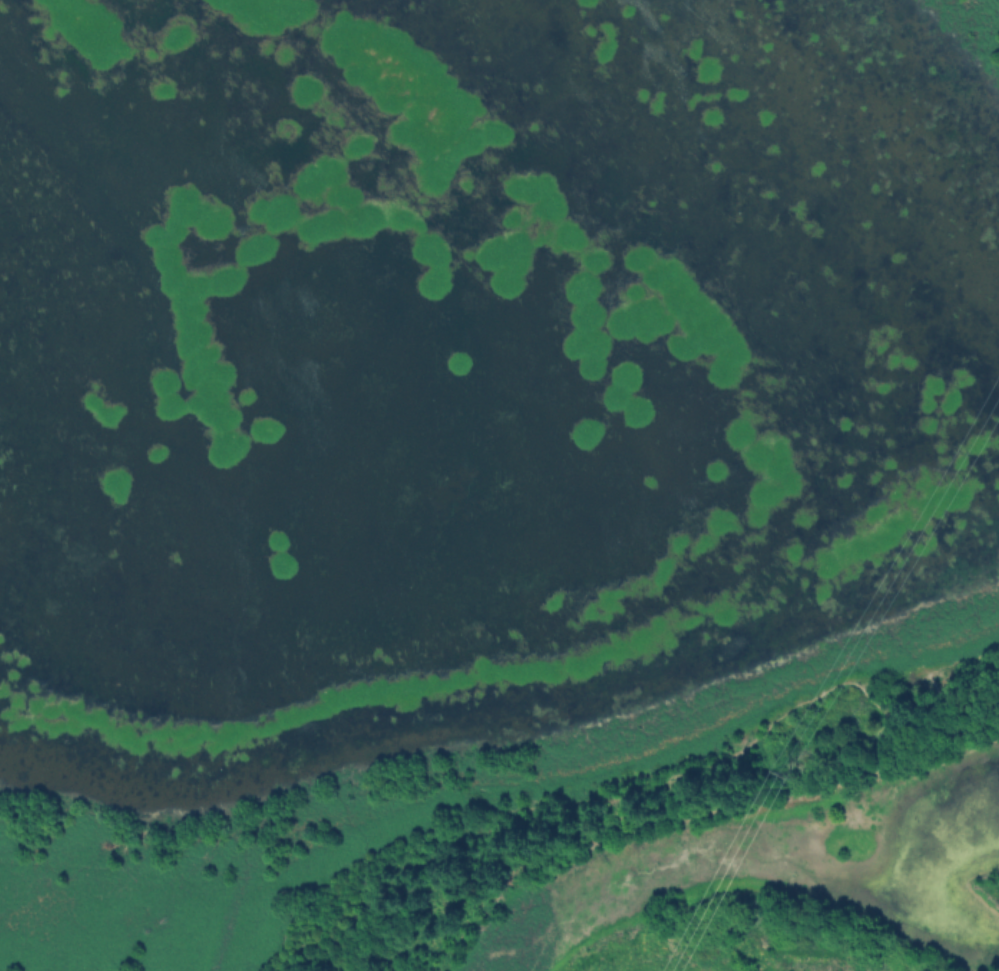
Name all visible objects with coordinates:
road: (978, 701)

